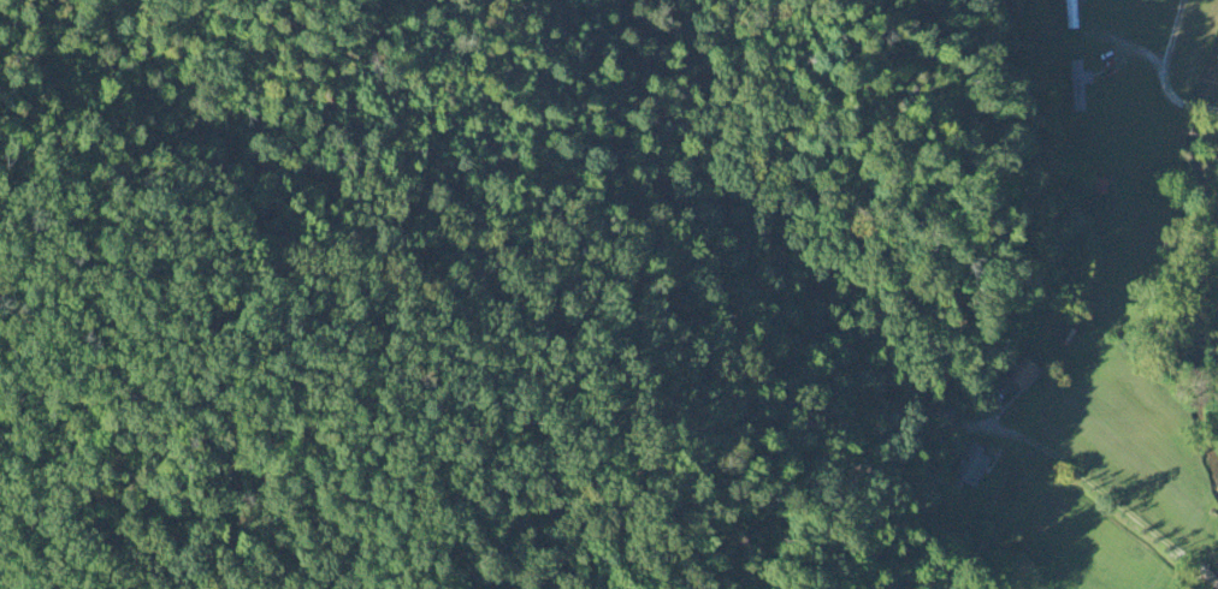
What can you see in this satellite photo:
building: (1071, 13)
road: (1163, 73)
building: (1078, 85)
building: (1099, 188)
building: (1018, 376)
road: (1111, 459)
building: (968, 469)

